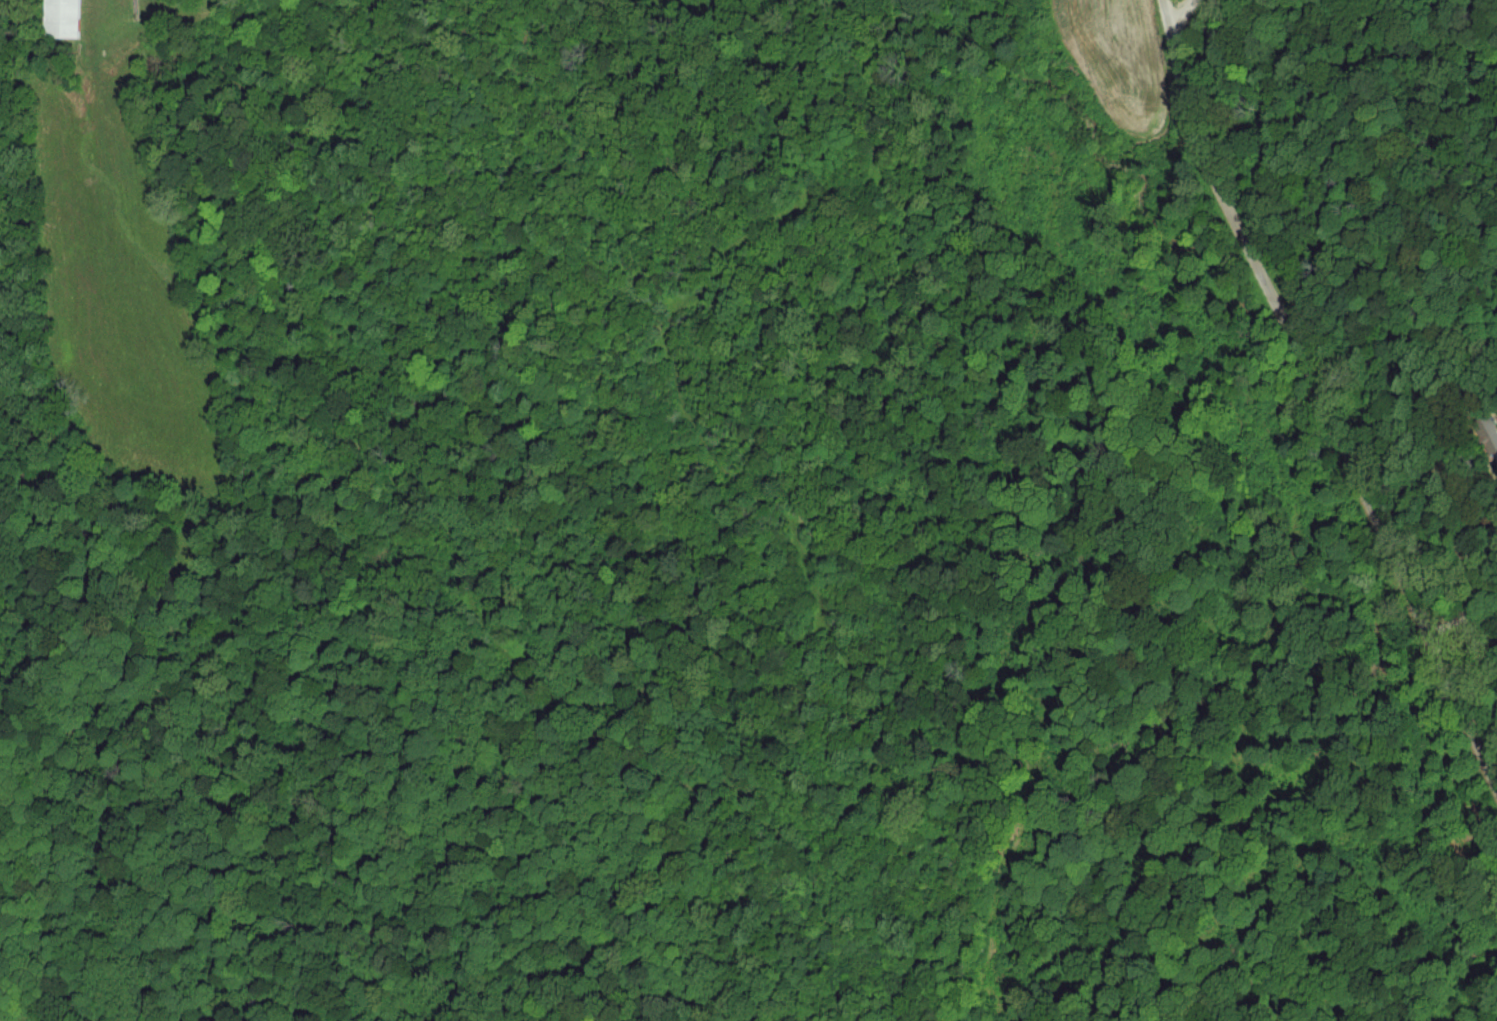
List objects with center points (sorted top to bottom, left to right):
road: (1177, 11)
building: (64, 19)
road: (1322, 396)
building: (1488, 433)
road: (1472, 569)

